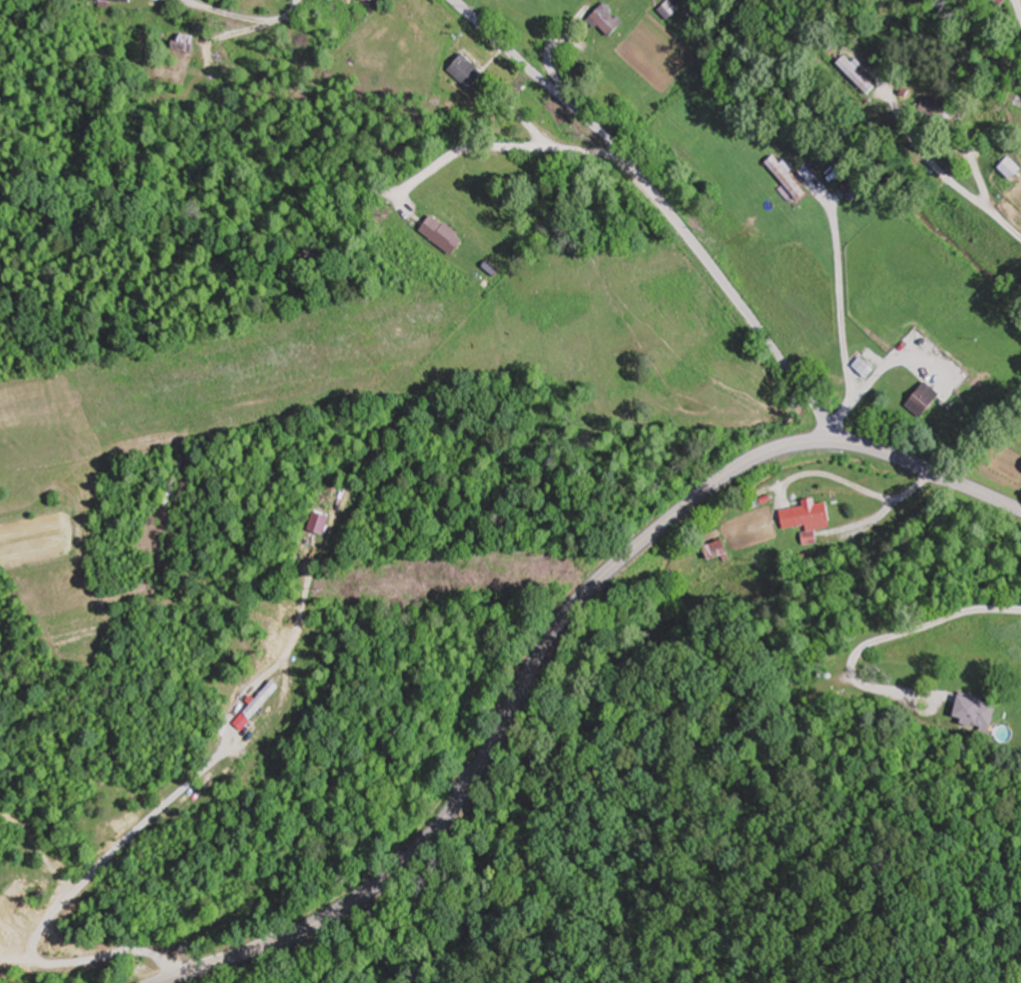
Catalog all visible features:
building: (517, 0)
building: (116, 1)
building: (1002, 2)
building: (671, 9)
road: (1016, 9)
road: (234, 15)
building: (609, 20)
building: (188, 42)
building: (469, 71)
building: (859, 75)
building: (934, 110)
road: (501, 147)
building: (1011, 168)
road: (939, 171)
building: (789, 177)
building: (852, 189)
road: (667, 208)
building: (447, 235)
building: (925, 400)
road: (934, 475)
building: (807, 514)
building: (749, 521)
building: (809, 538)
building: (719, 550)
building: (978, 714)
road: (507, 717)
road: (991, 812)

